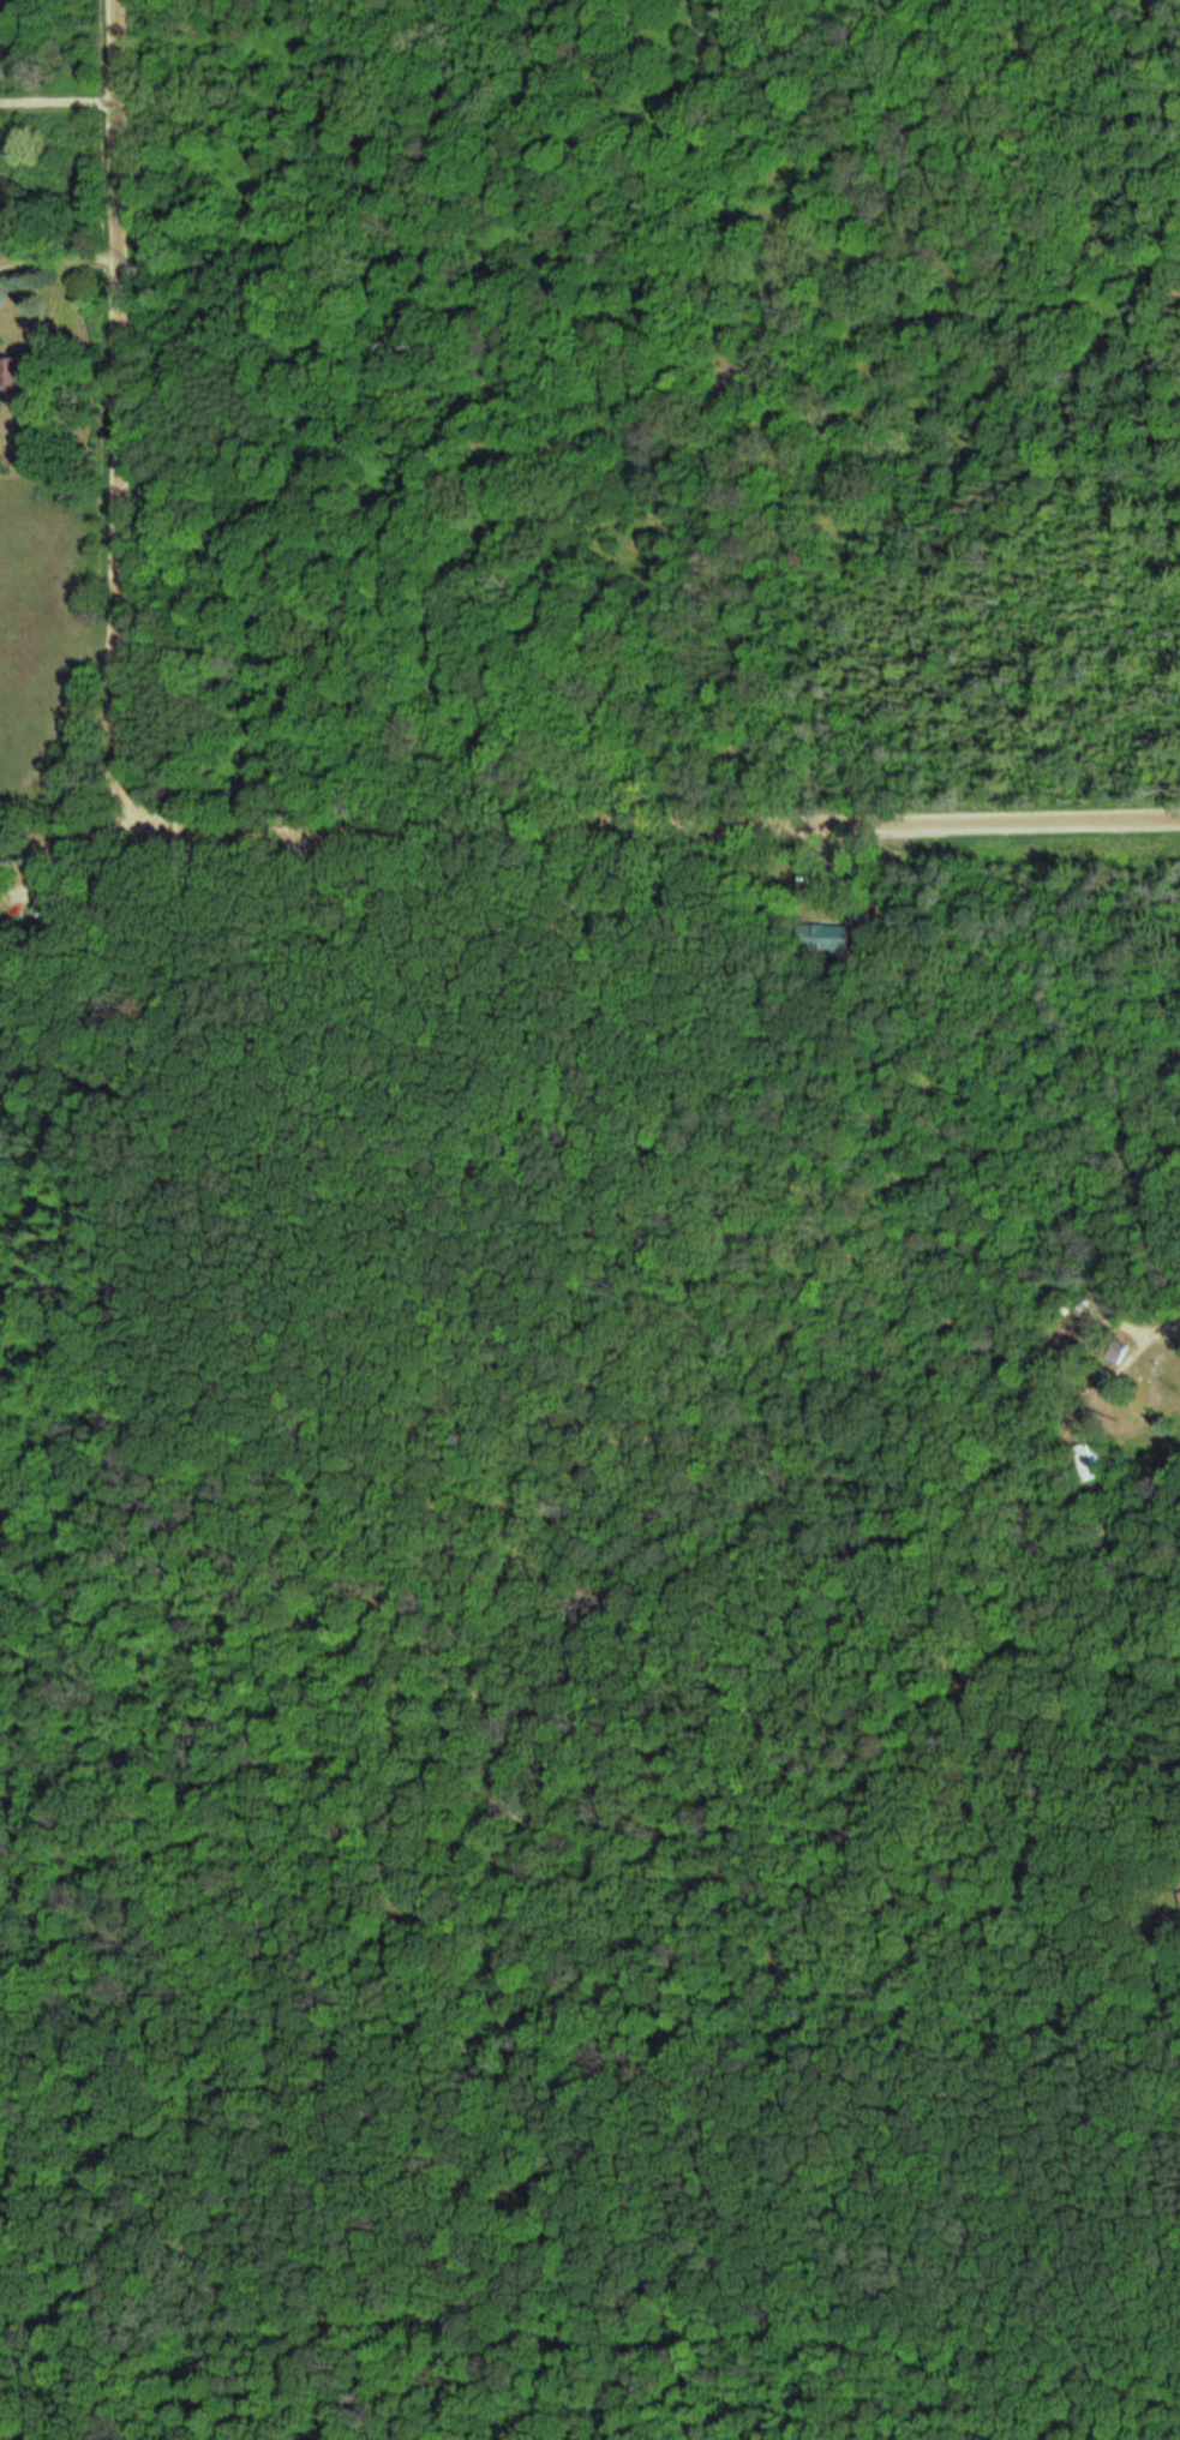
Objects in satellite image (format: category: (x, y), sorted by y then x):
road: (60, 107)
road: (121, 405)
road: (657, 829)
building: (1095, 1459)

